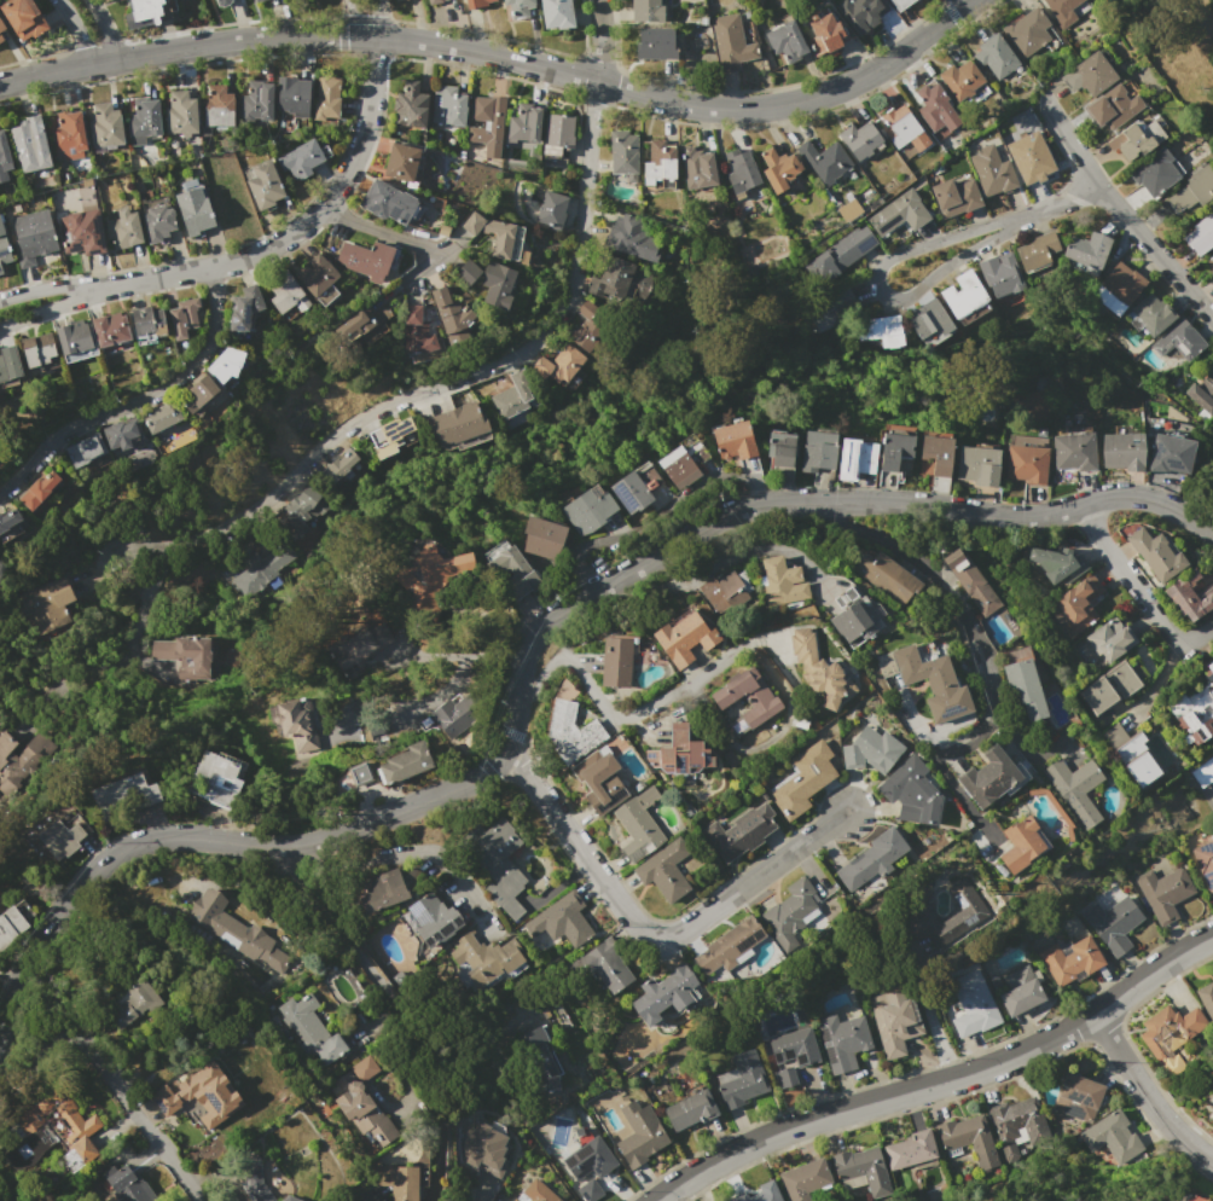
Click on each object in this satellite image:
building: (255, 0)
building: (257, 0)
building: (395, 0)
building: (434, 1)
building: (221, 2)
building: (476, 2)
building: (900, 4)
road: (959, 4)
building: (518, 7)
building: (1063, 10)
building: (646, 11)
building: (144, 13)
building: (557, 13)
building: (860, 13)
building: (23, 18)
road: (356, 19)
road: (377, 19)
road: (1195, 21)
building: (1, 29)
road: (104, 29)
road: (76, 30)
building: (825, 33)
building: (1031, 33)
road: (600, 41)
building: (787, 41)
building: (731, 42)
building: (656, 43)
park: (1177, 45)
road: (501, 56)
building: (996, 56)
building: (1089, 75)
building: (960, 79)
building: (291, 97)
building: (325, 97)
building: (256, 101)
building: (216, 105)
building: (410, 105)
building: (447, 105)
building: (1113, 106)
building: (935, 108)
building: (181, 114)
building: (144, 118)
building: (524, 123)
building: (899, 124)
building: (105, 126)
building: (486, 127)
building: (558, 133)
building: (69, 134)
building: (859, 139)
building: (1136, 139)
building: (30, 144)
building: (623, 153)
building: (4, 157)
building: (302, 159)
building: (824, 159)
building: (401, 161)
building: (1033, 161)
building: (658, 162)
building: (697, 168)
building: (779, 168)
building: (991, 170)
building: (741, 172)
building: (1156, 172)
building: (263, 185)
building: (1192, 190)
building: (954, 196)
building: (387, 202)
building: (848, 208)
building: (550, 210)
building: (195, 211)
road: (1120, 211)
building: (899, 213)
building: (157, 222)
road: (303, 222)
building: (121, 230)
building: (81, 232)
road: (375, 233)
building: (1200, 234)
building: (30, 236)
building: (501, 236)
building: (632, 238)
building: (4, 248)
building: (1087, 250)
building: (1037, 251)
building: (838, 254)
building: (367, 259)
building: (1209, 265)
building: (1, 269)
building: (466, 273)
building: (1002, 274)
building: (317, 278)
building: (617, 278)
road: (108, 285)
building: (497, 286)
building: (1119, 288)
road: (876, 289)
building: (288, 294)
building: (963, 295)
building: (243, 308)
building: (378, 309)
building: (837, 309)
building: (1155, 313)
building: (451, 315)
building: (184, 317)
building: (929, 319)
building: (147, 321)
building: (356, 325)
building: (585, 327)
building: (110, 329)
building: (882, 330)
building: (416, 332)
building: (74, 337)
building: (1179, 341)
building: (37, 349)
building: (8, 362)
building: (558, 362)
building: (226, 365)
road: (439, 383)
building: (201, 393)
building: (1202, 394)
building: (516, 399)
road: (137, 400)
building: (161, 417)
building: (459, 427)
building: (122, 434)
building: (393, 436)
building: (733, 440)
building: (780, 448)
building: (819, 449)
building: (894, 449)
building: (83, 451)
building: (1074, 452)
building: (1122, 452)
building: (938, 454)
building: (1170, 454)
building: (855, 458)
building: (1026, 463)
building: (976, 465)
building: (336, 468)
building: (677, 468)
building: (1162, 478)
building: (635, 488)
building: (39, 489)
building: (588, 510)
building: (300, 511)
building: (10, 524)
road: (638, 529)
building: (542, 538)
building: (1156, 553)
road: (153, 562)
building: (1055, 564)
road: (716, 565)
building: (261, 569)
building: (431, 572)
building: (513, 573)
building: (883, 575)
building: (780, 581)
building: (970, 581)
road: (146, 586)
building: (724, 592)
road: (1137, 593)
building: (1188, 594)
building: (1076, 603)
road: (959, 607)
building: (45, 608)
road: (135, 619)
building: (852, 623)
road: (528, 637)
building: (683, 638)
building: (1109, 639)
building: (359, 645)
road: (132, 652)
building: (185, 654)
building: (614, 663)
building: (819, 672)
road: (458, 673)
road: (1155, 679)
building: (927, 680)
building: (1109, 689)
building: (1022, 691)
building: (748, 696)
building: (454, 709)
building: (1195, 712)
road: (623, 716)
building: (297, 724)
building: (571, 732)
building: (870, 750)
building: (677, 754)
building: (1131, 755)
building: (11, 760)
building: (404, 764)
building: (1203, 771)
building: (358, 773)
building: (989, 776)
building: (215, 778)
building: (600, 778)
building: (802, 781)
building: (226, 783)
building: (1074, 789)
building: (911, 794)
road: (958, 794)
building: (122, 795)
building: (638, 825)
building: (739, 831)
building: (62, 840)
building: (1021, 846)
road: (418, 848)
building: (871, 859)
building: (501, 864)
building: (1203, 864)
building: (663, 871)
building: (383, 889)
building: (1162, 892)
building: (969, 913)
building: (790, 915)
building: (434, 919)
building: (563, 919)
road: (329, 923)
building: (1113, 923)
building: (11, 927)
road: (648, 932)
building: (238, 934)
building: (729, 946)
building: (484, 959)
building: (1070, 959)
building: (608, 963)
building: (1020, 991)
building: (666, 994)
building: (1206, 996)
building: (127, 1005)
building: (974, 1006)
building: (894, 1021)
building: (309, 1028)
building: (1167, 1032)
building: (841, 1040)
building: (791, 1052)
building: (545, 1057)
road: (108, 1073)
building: (742, 1079)
road: (942, 1085)
building: (203, 1095)
road: (1144, 1095)
building: (1076, 1097)
building: (360, 1103)
building: (1211, 1106)
building: (690, 1109)
building: (1018, 1125)
building: (80, 1130)
building: (639, 1135)
building: (965, 1136)
building: (1110, 1137)
building: (483, 1148)
building: (910, 1149)
building: (590, 1166)
building: (860, 1168)
building: (255, 1177)
building: (803, 1179)
building: (127, 1183)
building: (397, 1183)
road: (482, 1193)
building: (535, 1193)
building: (759, 1193)
building: (1199, 1197)
building: (289, 1199)

